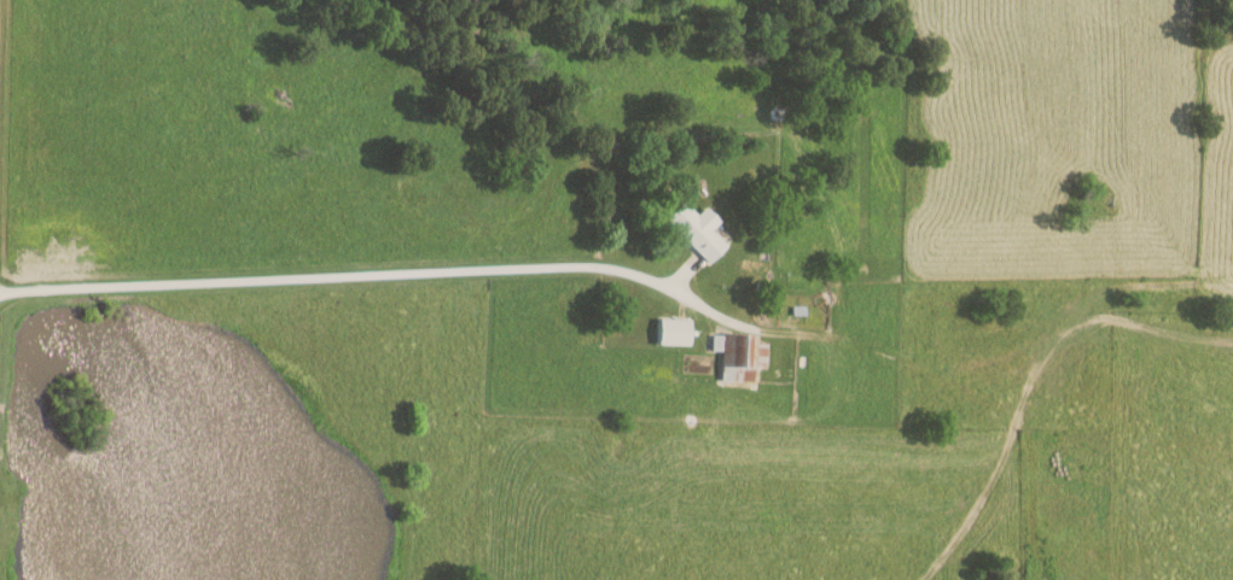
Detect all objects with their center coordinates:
building: (697, 229)
road: (341, 280)
building: (674, 330)
building: (739, 355)

